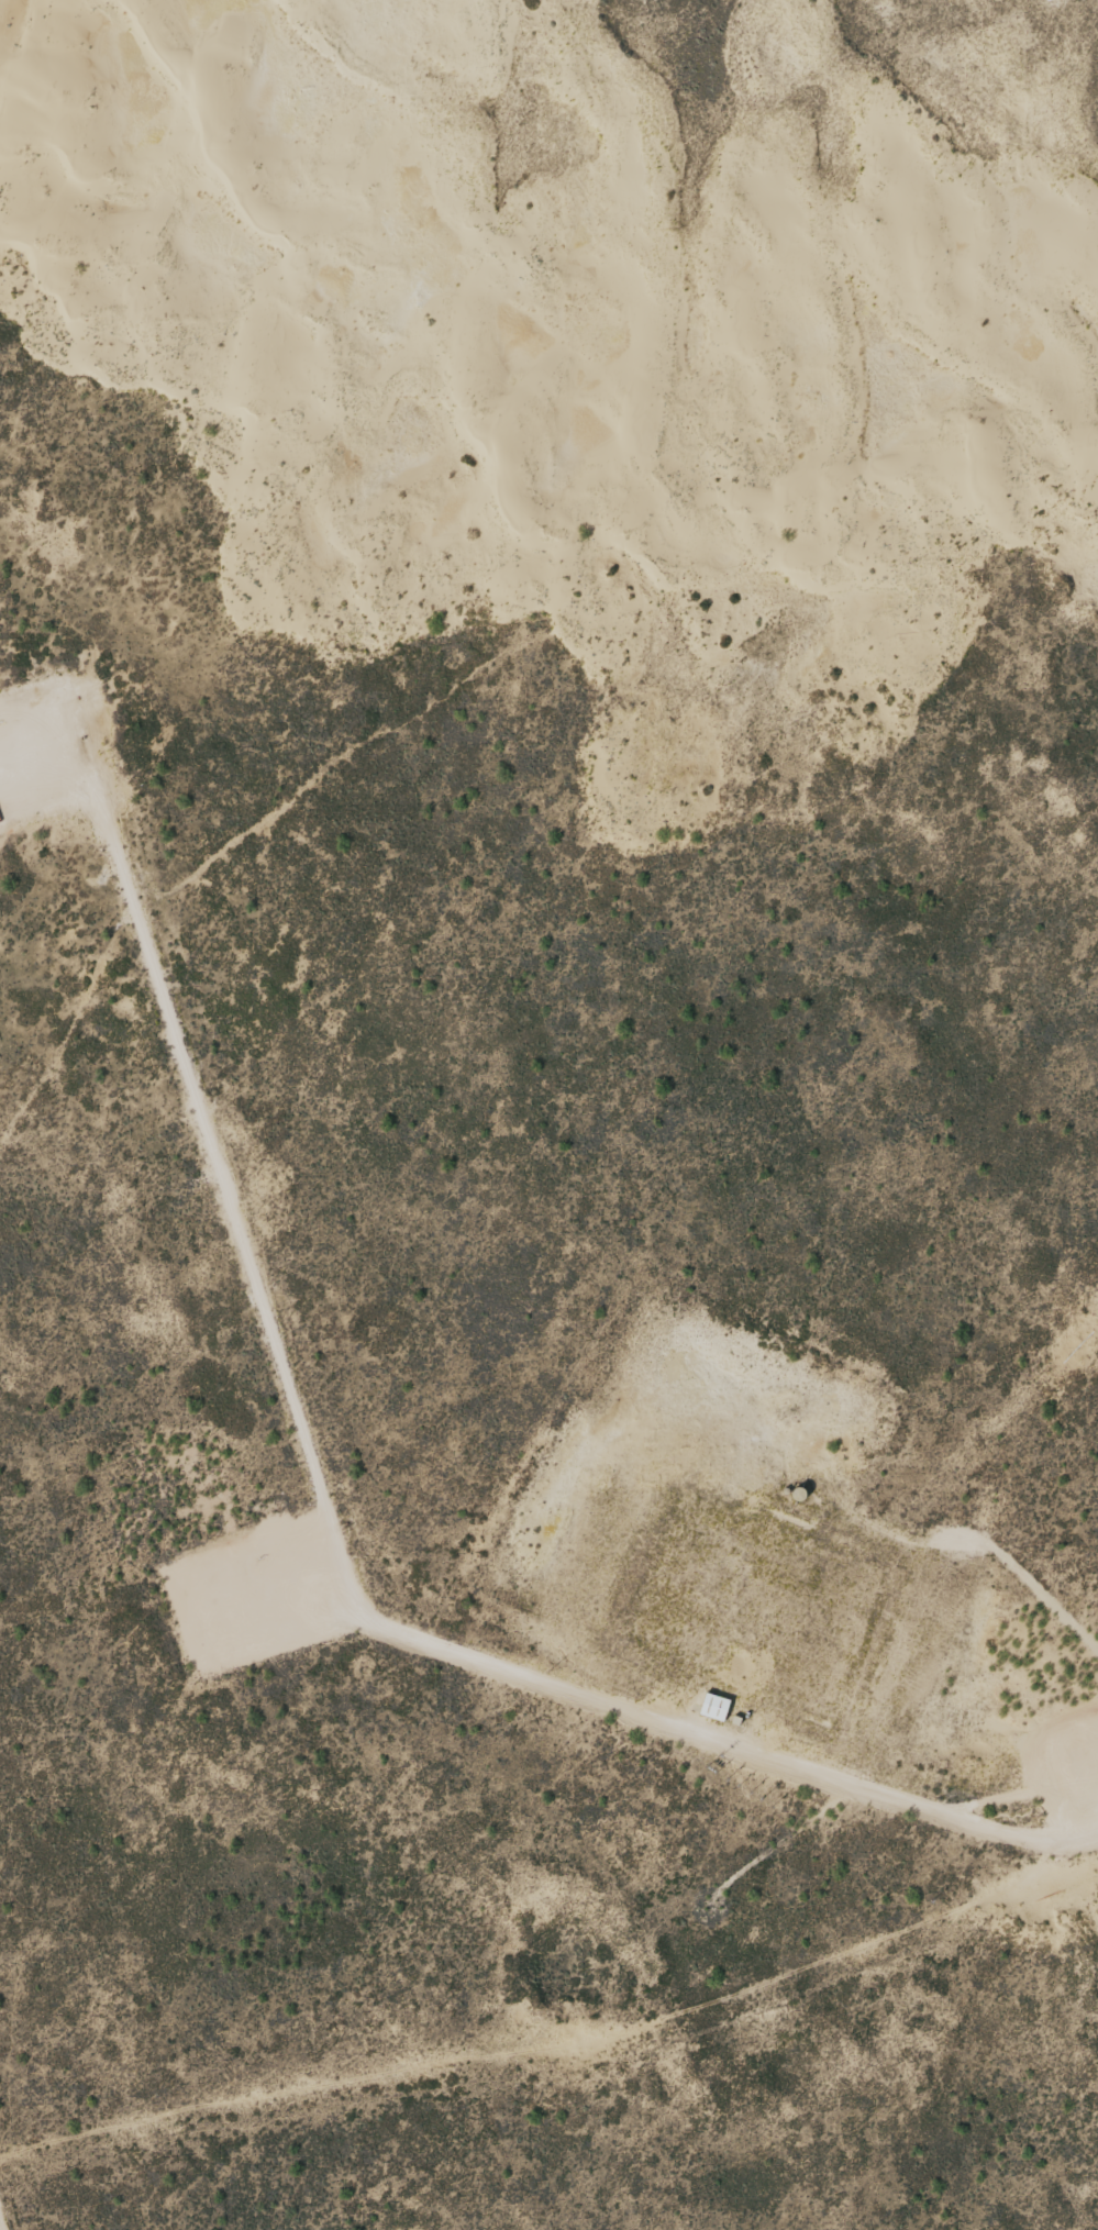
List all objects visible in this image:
building: (712, 1704)

